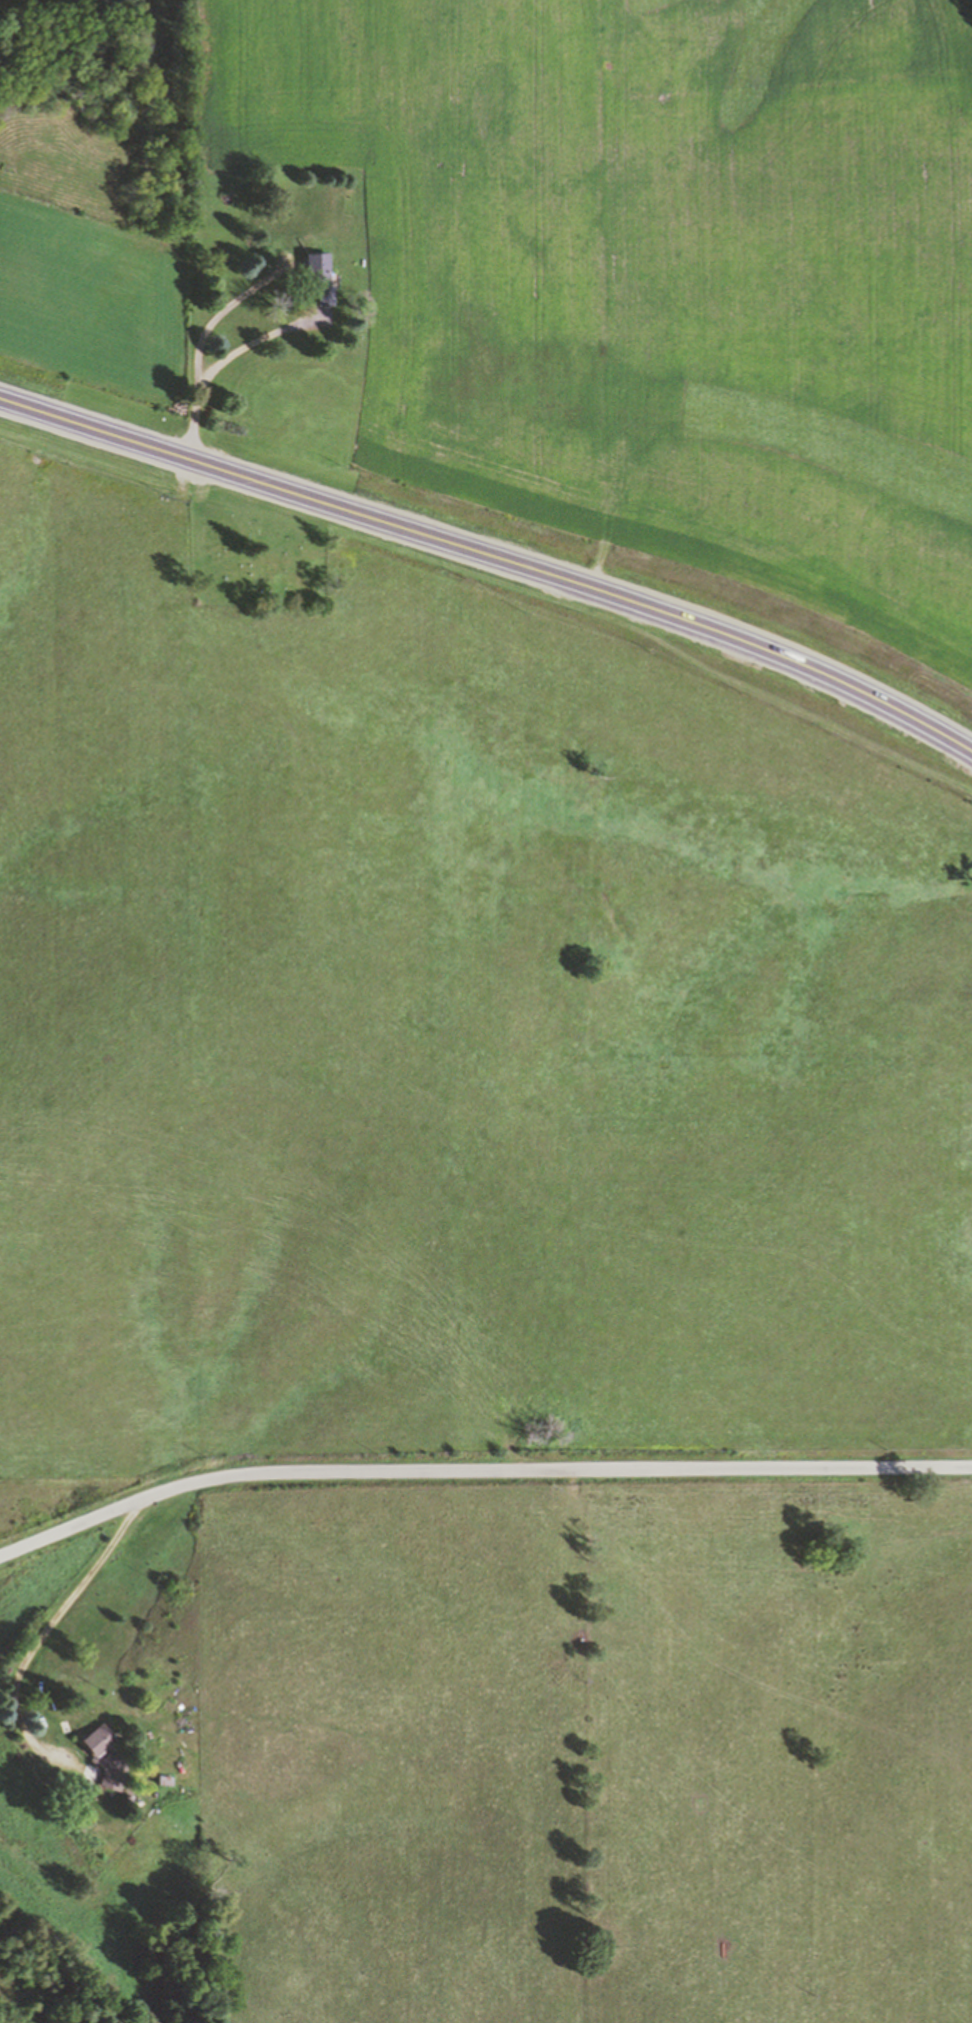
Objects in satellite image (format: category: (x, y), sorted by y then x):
building: (320, 276)
road: (221, 312)
road: (223, 358)
park: (246, 555)
road: (492, 557)
road: (478, 1467)
road: (38, 1637)
building: (106, 1755)

